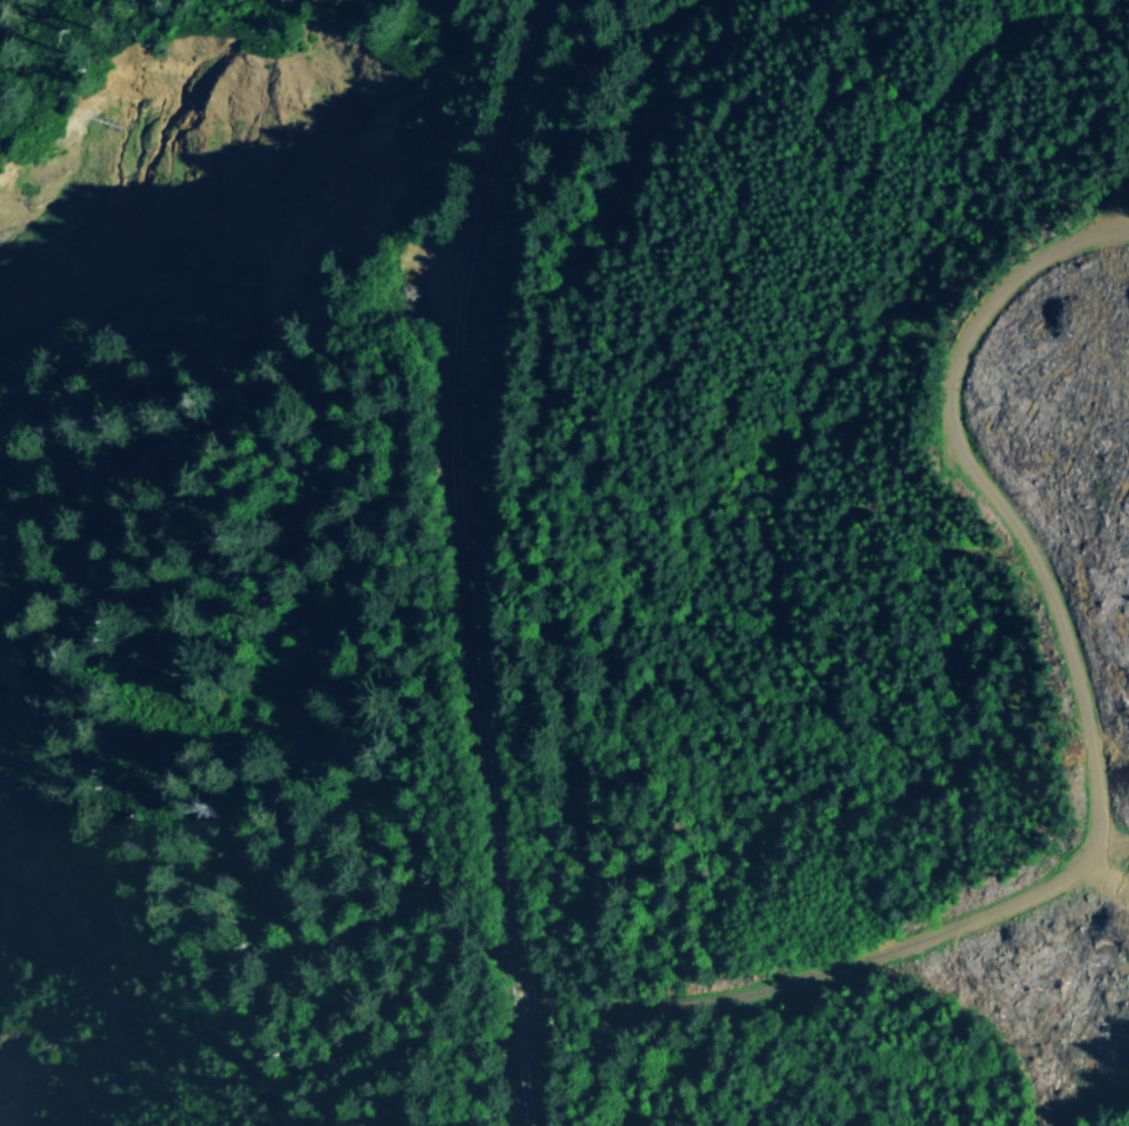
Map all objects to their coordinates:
road: (211, 0)
road: (1024, 22)
road: (1116, 207)
road: (471, 558)
road: (1111, 859)
road: (1092, 865)

